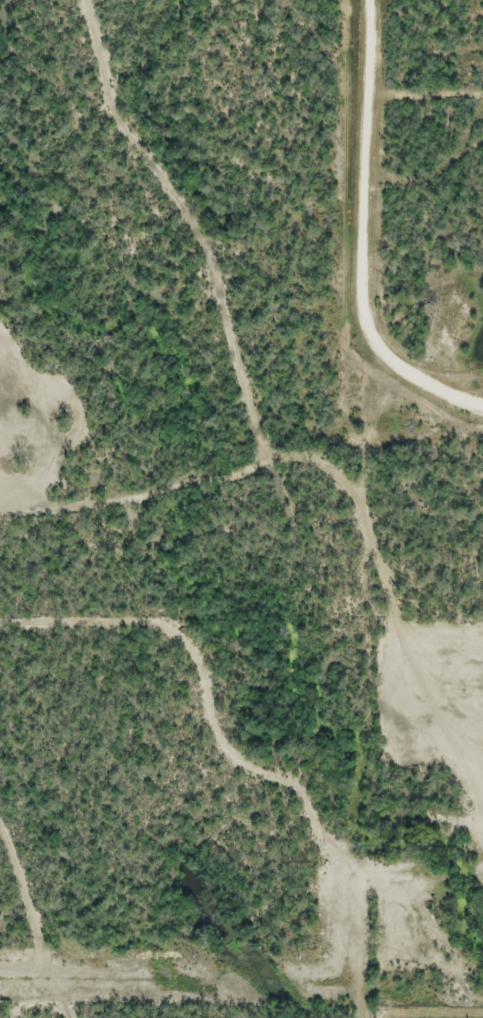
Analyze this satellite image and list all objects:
road: (360, 243)

